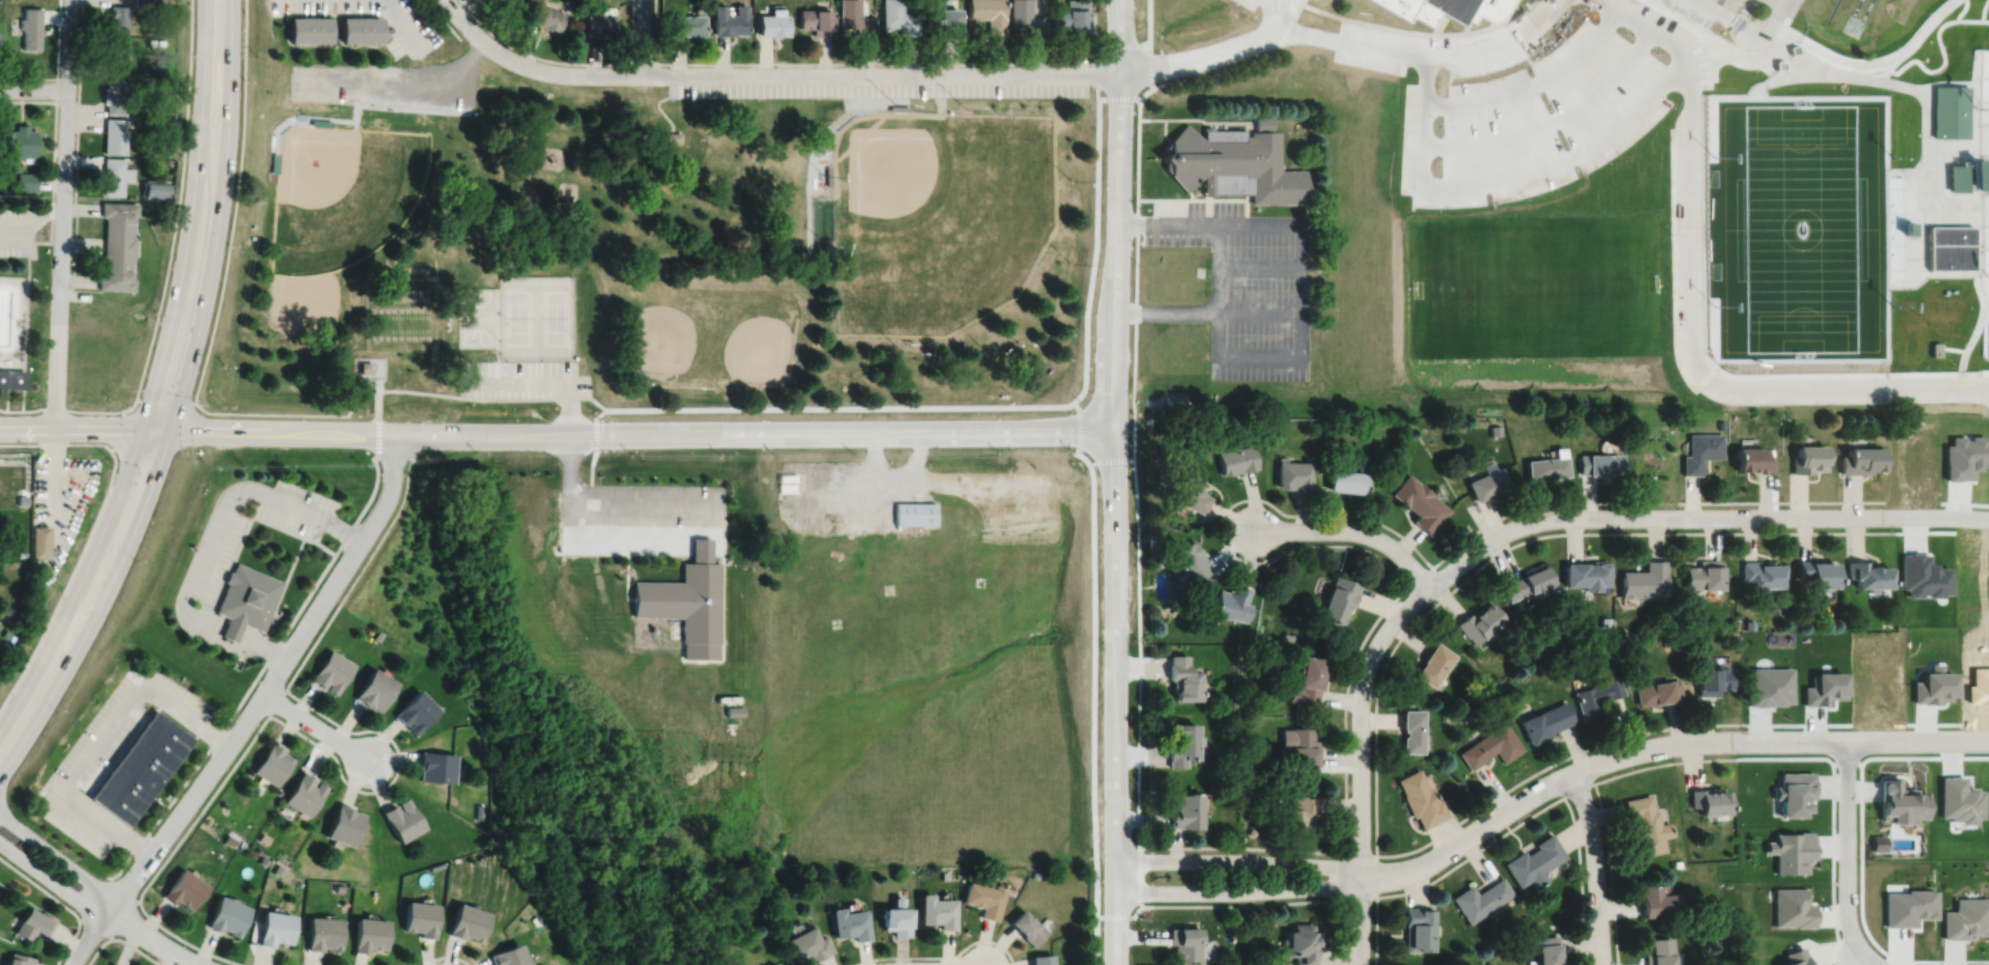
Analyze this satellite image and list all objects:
building: (0, 0)
road: (1301, 1)
building: (155, 2)
building: (507, 2)
building: (143, 3)
road: (1273, 3)
parking lot: (1249, 7)
park: (1856, 7)
building: (1444, 9)
park: (1866, 9)
road: (1790, 10)
track: (1832, 10)
road: (1329, 12)
building: (989, 14)
road: (218, 15)
building: (119, 17)
building: (901, 17)
building: (1027, 17)
building: (1073, 17)
road: (1275, 17)
road: (1727, 17)
building: (548, 18)
building: (856, 18)
road: (443, 19)
building: (728, 20)
building: (816, 21)
building: (944, 21)
building: (601, 22)
road: (404, 24)
building: (772, 24)
park: (1853, 24)
building: (686, 25)
parking lot: (1700, 25)
road: (1150, 26)
road: (1796, 26)
building: (32, 28)
building: (310, 30)
building: (362, 30)
road: (632, 31)
road: (655, 31)
parking lot: (413, 32)
road: (643, 36)
building: (152, 41)
road: (1344, 41)
building: (0, 42)
building: (160, 42)
road: (1701, 42)
parking lot: (1438, 48)
building: (1794, 49)
building: (118, 55)
road: (584, 63)
road: (915, 63)
road: (57, 66)
road: (768, 74)
road: (402, 77)
building: (151, 82)
parking lot: (386, 85)
road: (33, 89)
parking lot: (878, 89)
building: (116, 95)
building: (898, 106)
building: (836, 113)
road: (664, 114)
road: (1200, 118)
road: (1207, 122)
building: (1264, 122)
road: (1979, 123)
building: (317, 124)
road: (675, 129)
building: (115, 134)
building: (672, 135)
building: (0, 138)
road: (1970, 139)
building: (24, 142)
building: (166, 151)
road: (1980, 152)
building: (276, 157)
building: (1232, 163)
building: (1970, 171)
building: (114, 174)
building: (827, 174)
building: (28, 182)
park: (332, 184)
building: (156, 187)
road: (1970, 188)
road: (1190, 192)
road: (1979, 193)
road: (1196, 198)
building: (1743, 201)
road: (1207, 208)
road: (61, 211)
road: (1154, 211)
road: (1246, 211)
road: (1116, 212)
park: (935, 215)
road: (31, 220)
road: (1128, 223)
building: (252, 224)
road: (1980, 224)
parking lot: (16, 231)
building: (251, 236)
road: (50, 239)
building: (117, 244)
park: (1399, 244)
building: (1944, 246)
road: (1980, 247)
park: (650, 250)
building: (819, 252)
road: (1259, 265)
road: (166, 271)
parking lot: (1246, 283)
park: (311, 289)
building: (378, 295)
park: (25, 303)
park: (406, 305)
road: (1165, 309)
road: (1259, 309)
park: (475, 316)
park: (536, 316)
road: (1300, 318)
road: (497, 335)
road: (1942, 338)
building: (1934, 348)
road: (161, 357)
road: (1975, 363)
road: (187, 365)
building: (364, 366)
building: (11, 378)
parking lot: (522, 378)
road: (1985, 378)
road: (364, 381)
road: (524, 381)
road: (451, 394)
road: (376, 395)
road: (6, 399)
building: (1175, 400)
road: (597, 418)
road: (86, 424)
traffic signals: (141, 425)
traffic signals: (172, 425)
building: (1494, 429)
road: (642, 431)
road: (568, 440)
road: (1137, 440)
building: (1701, 450)
building: (1964, 456)
building: (1809, 458)
building: (1235, 459)
building: (1753, 460)
building: (1862, 460)
building: (1600, 463)
road: (55, 464)
building: (1546, 465)
road: (898, 474)
building: (1293, 474)
building: (1347, 481)
building: (1486, 482)
building: (805, 485)
building: (1186, 494)
building: (22, 499)
building: (1418, 503)
road: (632, 504)
parking lot: (296, 507)
building: (914, 513)
road: (1305, 514)
parking lot: (635, 516)
road: (1543, 519)
road: (1352, 530)
road: (208, 537)
building: (1153, 540)
building: (41, 541)
road: (606, 543)
road: (1512, 545)
building: (21, 553)
parking lot: (225, 556)
building: (1189, 561)
building: (1761, 574)
building: (1816, 574)
building: (1586, 575)
building: (1703, 575)
building: (1867, 575)
building: (1922, 576)
building: (1644, 581)
building: (1529, 583)
building: (246, 596)
building: (1336, 600)
building: (688, 601)
building: (1230, 604)
building: (1478, 622)
building: (1605, 622)
building: (1748, 624)
building: (230, 629)
building: (1556, 629)
building: (5, 633)
building: (378, 635)
building: (1287, 636)
building: (1734, 641)
building: (1525, 645)
building: (1552, 648)
road: (266, 659)
building: (1432, 665)
building: (330, 672)
building: (1181, 679)
building: (1306, 680)
building: (1713, 681)
building: (1768, 687)
building: (1933, 687)
building: (1822, 689)
building: (374, 690)
building: (1657, 693)
road: (1114, 694)
building: (1596, 697)
building: (1233, 704)
road: (253, 708)
road: (25, 710)
building: (734, 711)
building: (416, 712)
building: (1544, 723)
road: (314, 726)
building: (1410, 731)
road: (102, 738)
building: (1182, 744)
building: (1490, 746)
road: (1658, 746)
building: (1298, 748)
parking lot: (112, 752)
building: (271, 762)
building: (436, 764)
building: (139, 765)
road: (1511, 786)
road: (357, 789)
building: (1793, 790)
building: (303, 791)
building: (1708, 798)
building: (1960, 798)
building: (1419, 800)
building: (1899, 800)
building: (1298, 811)
building: (1185, 812)
road: (1528, 816)
building: (402, 817)
building: (343, 822)
building: (1646, 824)
building: (1249, 832)
building: (229, 838)
road: (1846, 847)
road: (1862, 847)
building: (1792, 850)
road: (58, 857)
building: (1535, 860)
road: (1238, 861)
road: (1595, 867)
building: (278, 869)
road: (1610, 872)
building: (1035, 873)
building: (945, 874)
building: (790, 876)
road: (1580, 879)
road: (51, 880)
building: (183, 887)
building: (338, 887)
road: (121, 889)
building: (904, 890)
road: (1238, 891)
building: (1481, 897)
building: (985, 898)
road: (93, 899)
building: (1656, 899)
road: (61, 902)
building: (1909, 905)
building: (1792, 906)
building: (938, 909)
building: (226, 914)
road: (120, 916)
building: (420, 916)
building: (897, 916)
building: (1966, 917)
road: (1360, 920)
building: (33, 921)
building: (468, 921)
building: (850, 922)
building: (1028, 925)
road: (95, 926)
building: (274, 926)
building: (1417, 927)
building: (323, 931)
road: (1345, 931)
building: (369, 932)
road: (151, 938)
road: (121, 939)
building: (1186, 941)
building: (1302, 942)
building: (807, 944)
building: (1547, 949)
building: (1659, 952)
road: (447, 955)
building: (509, 955)
road: (940, 956)
building: (1044, 958)
road: (1870, 958)
building: (19, 959)
building: (773, 963)
building: (112, 964)
building: (777, 964)

